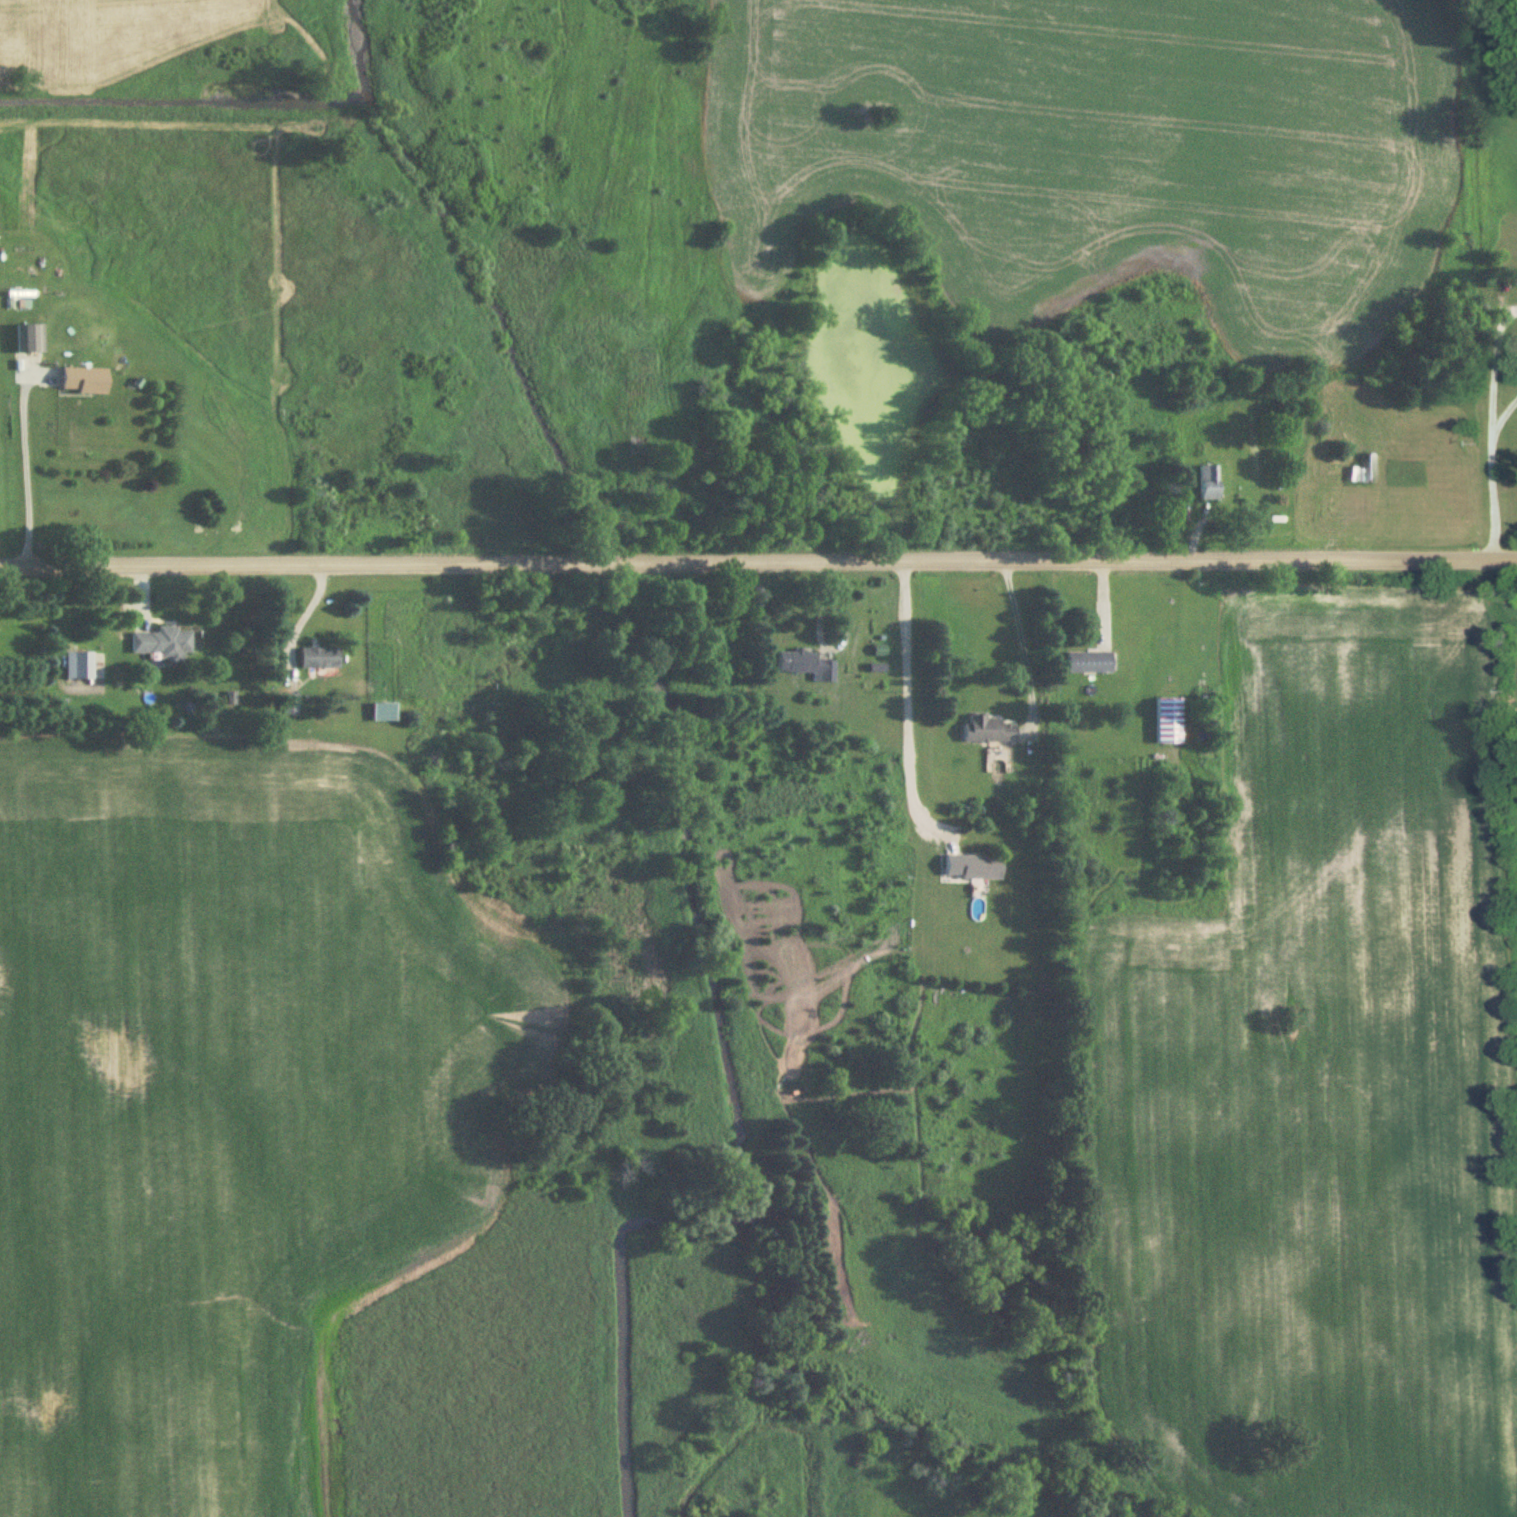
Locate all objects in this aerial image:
building: (30, 340)
road: (1494, 357)
building: (85, 382)
road: (1505, 428)
road: (26, 473)
road: (1493, 480)
building: (1208, 484)
road: (758, 561)
road: (299, 621)
road: (1023, 641)
building: (164, 645)
building: (319, 659)
building: (1089, 663)
building: (79, 666)
building: (805, 666)
building: (290, 705)
road: (907, 709)
building: (384, 713)
building: (1168, 721)
building: (989, 731)
building: (973, 868)

